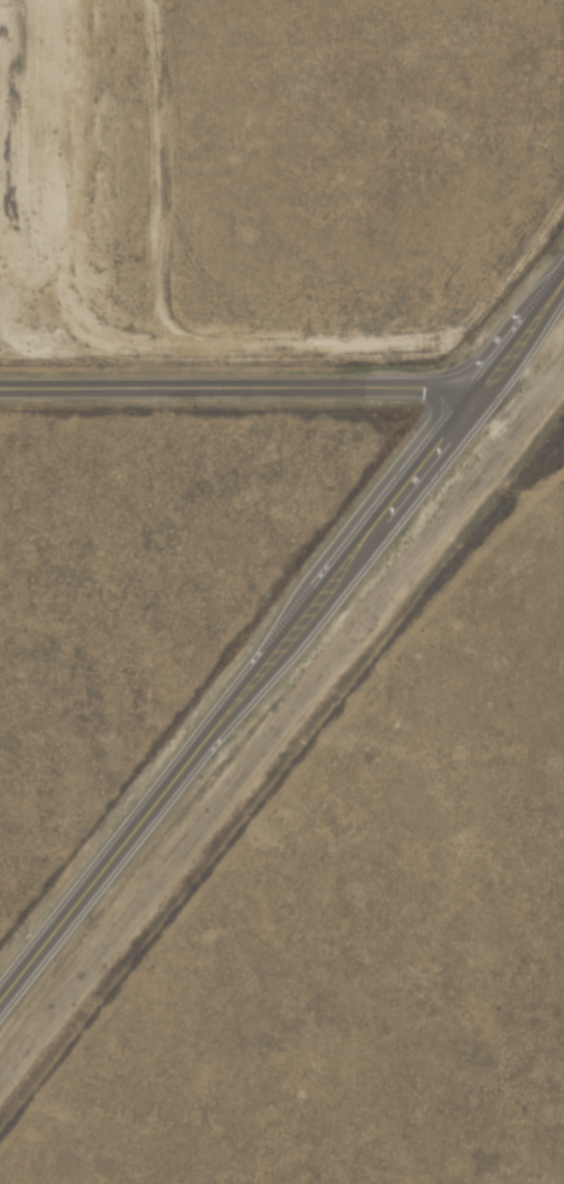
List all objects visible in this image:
airport: (271, 174)
road: (232, 383)
road: (286, 617)

